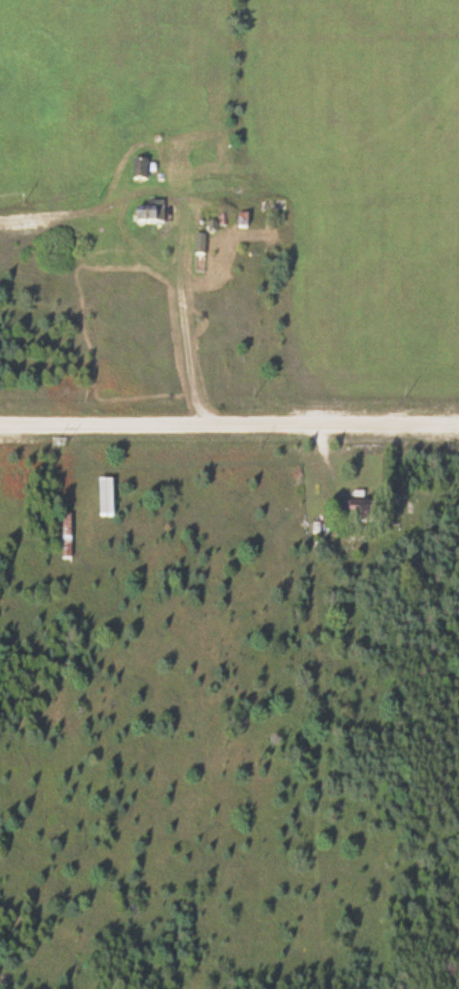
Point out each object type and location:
building: (137, 169)
building: (147, 214)
road: (229, 430)
building: (352, 512)
building: (63, 530)

